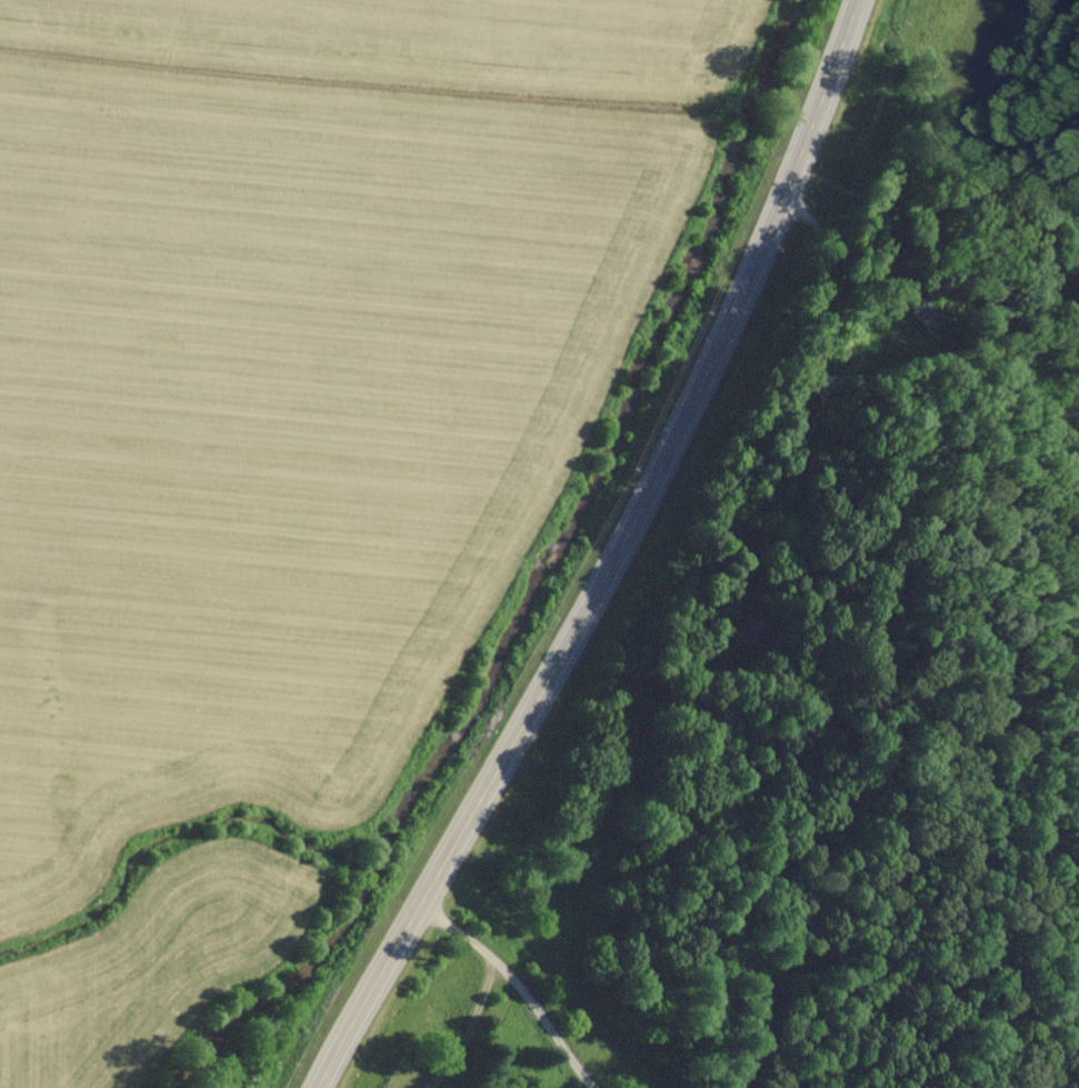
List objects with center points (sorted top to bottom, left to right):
road: (932, 303)
road: (1032, 466)
road: (611, 556)
building: (750, 630)
road: (517, 987)

